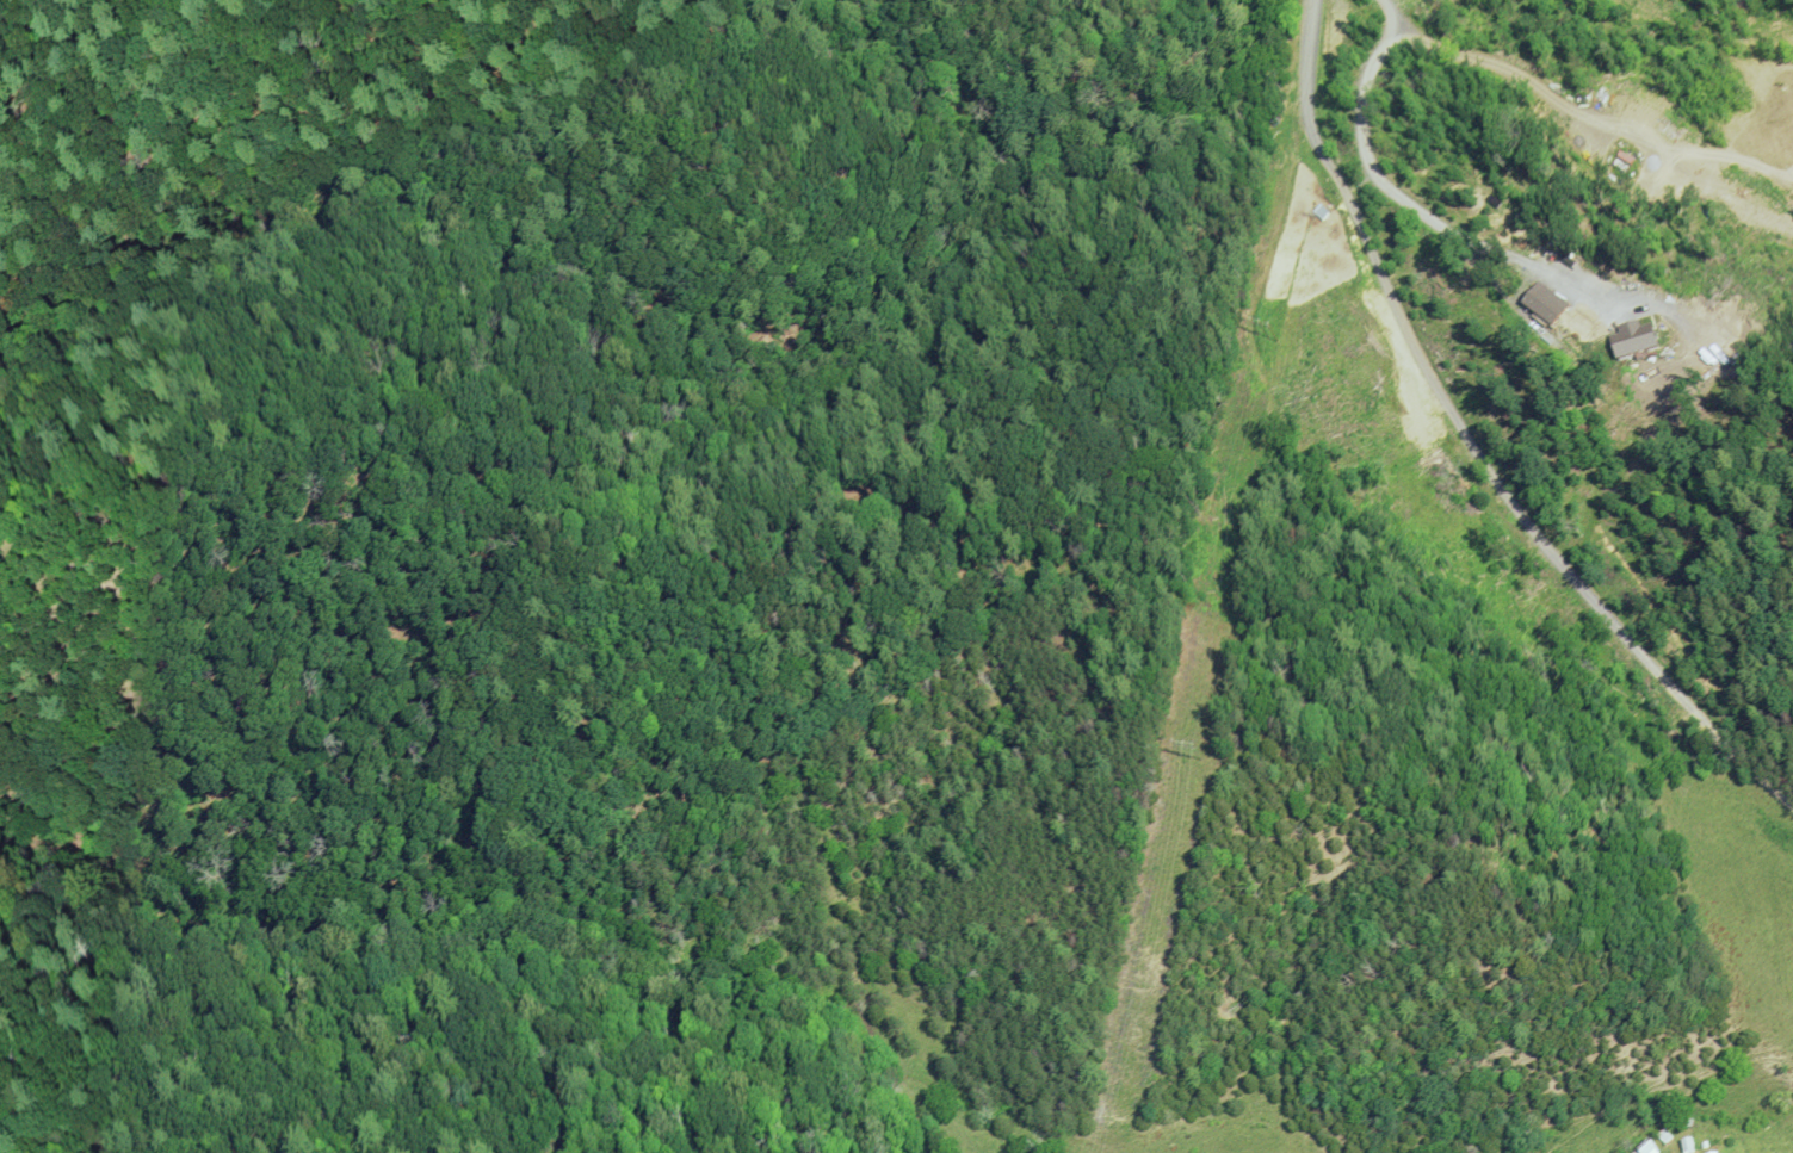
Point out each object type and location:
road: (1478, 441)
building: (1665, 1136)
building: (1688, 1146)
building: (1647, 1148)

